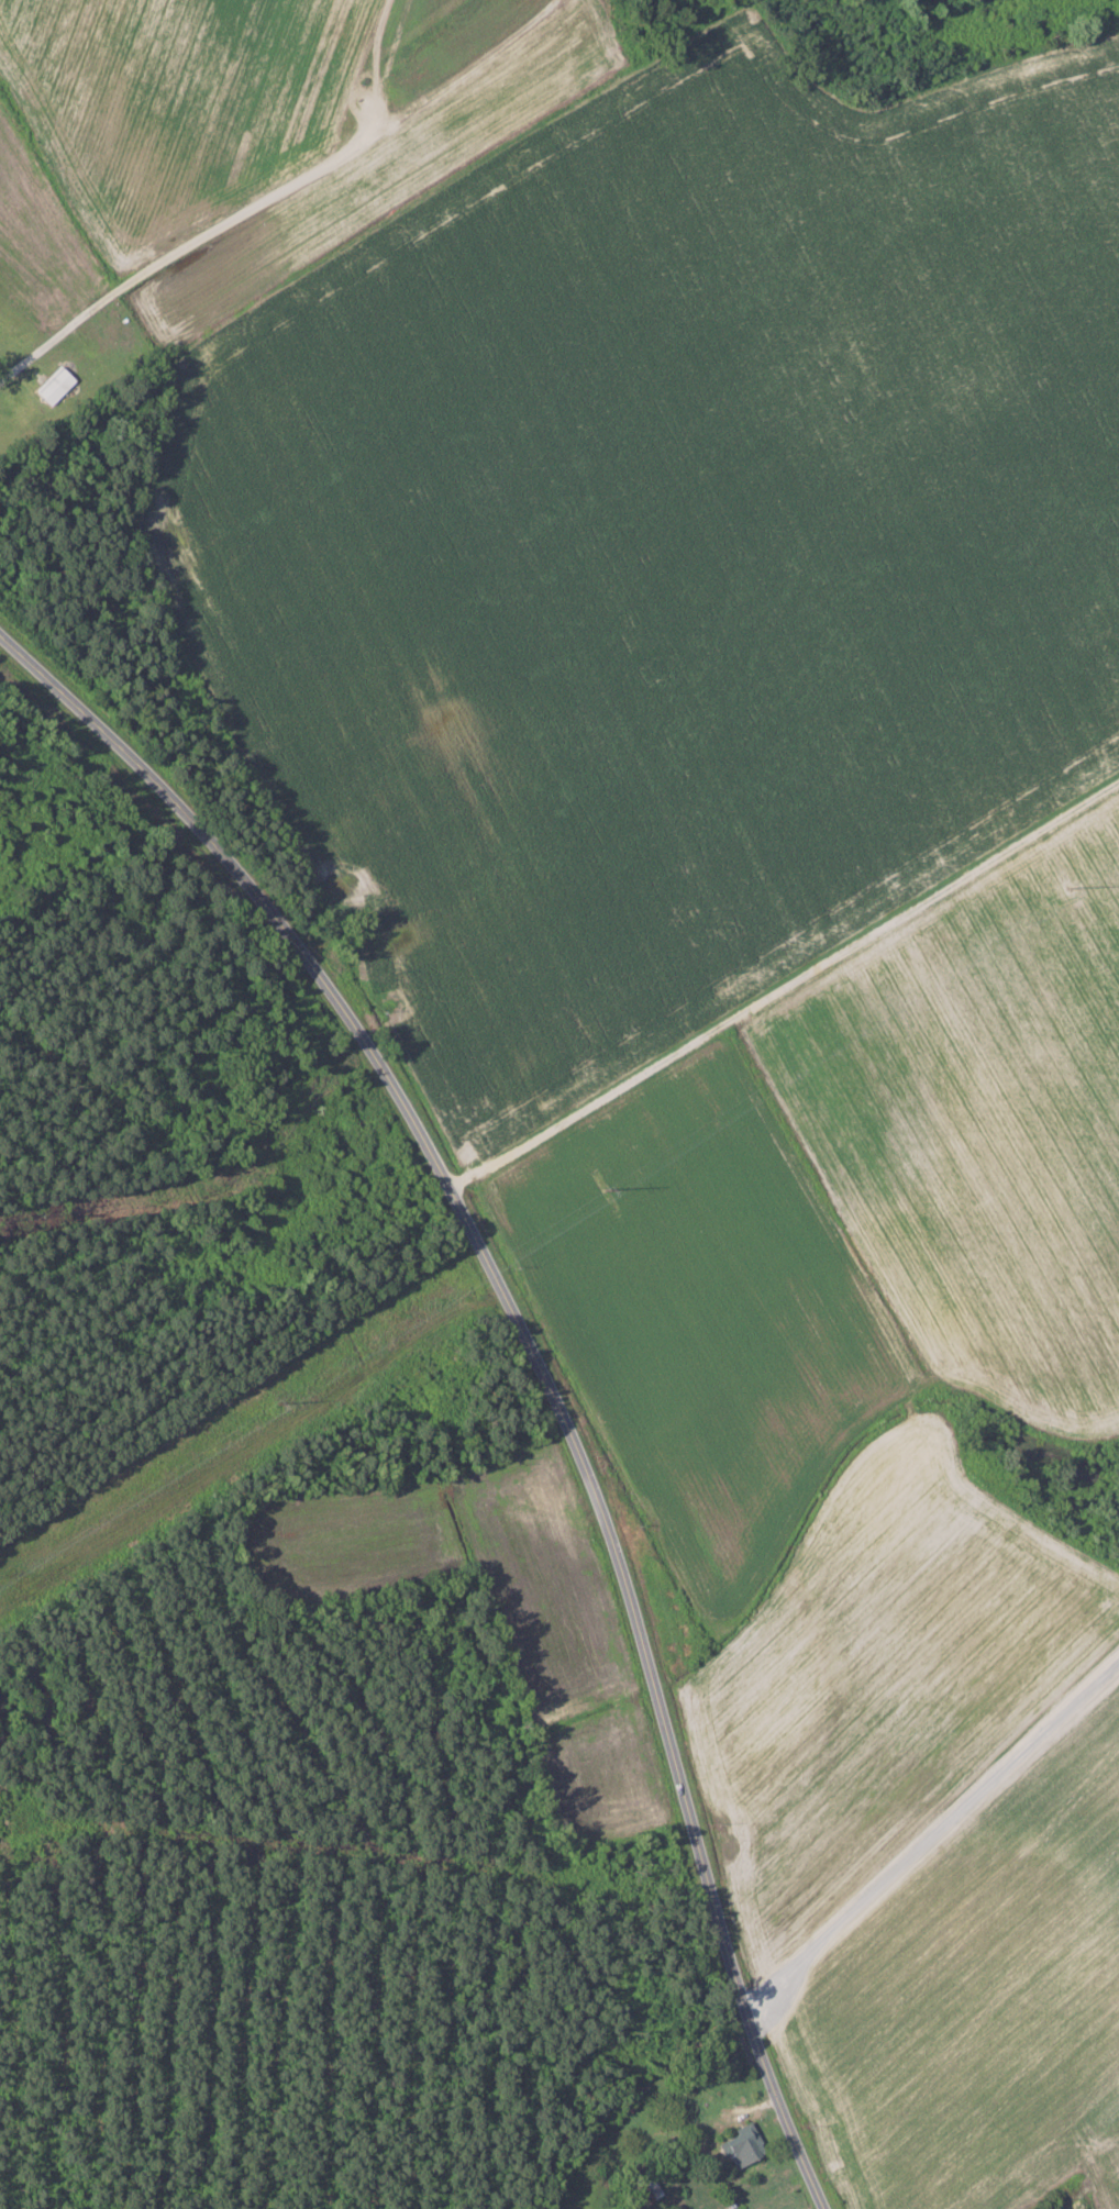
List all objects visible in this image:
power tower: (1071, 886)
power tower: (606, 1188)
power tower: (478, 1272)
road: (533, 1354)
power tower: (278, 1405)
building: (743, 2146)
building: (644, 2188)

